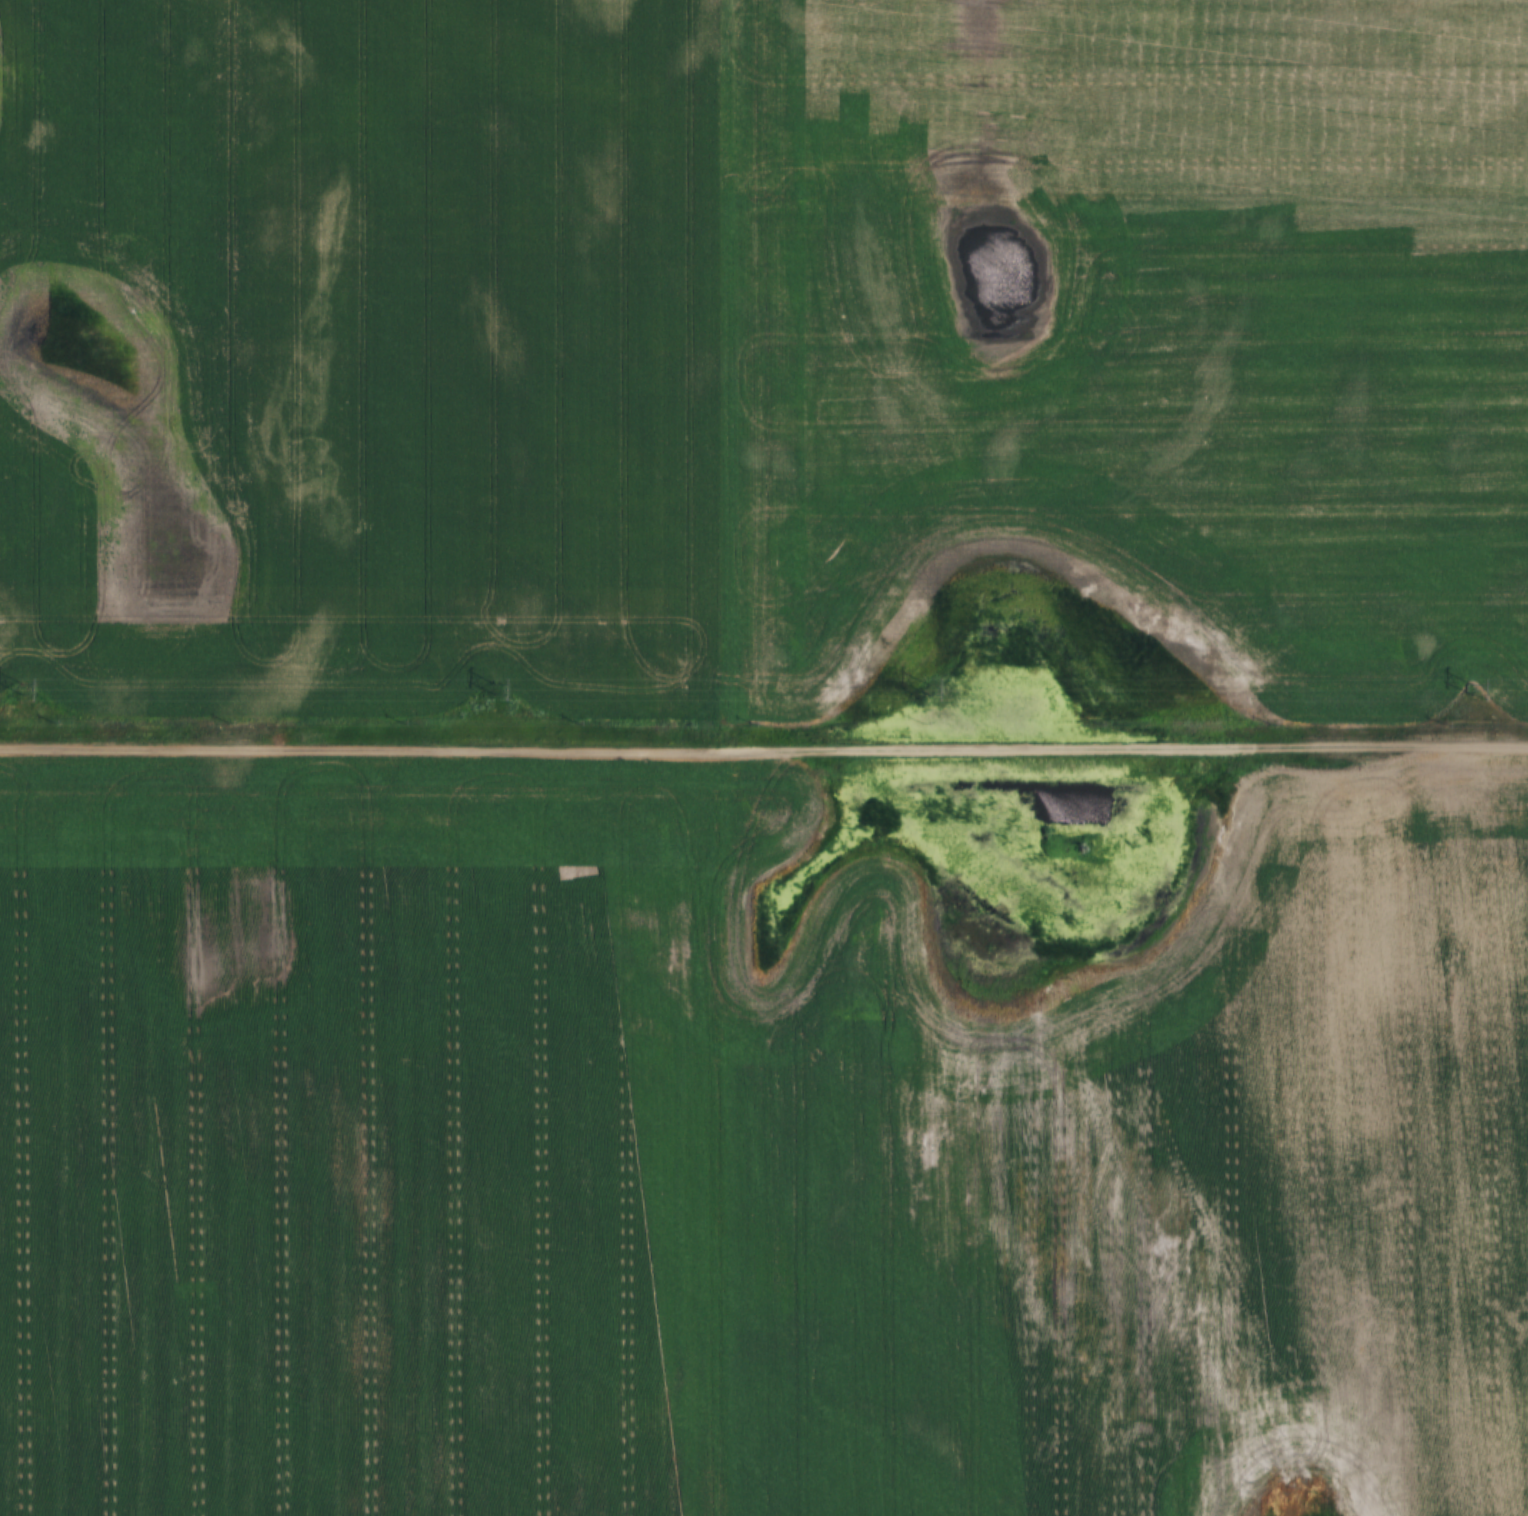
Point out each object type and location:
building: (534, 125)
road: (764, 752)
building: (844, 1281)
building: (1143, 1466)

